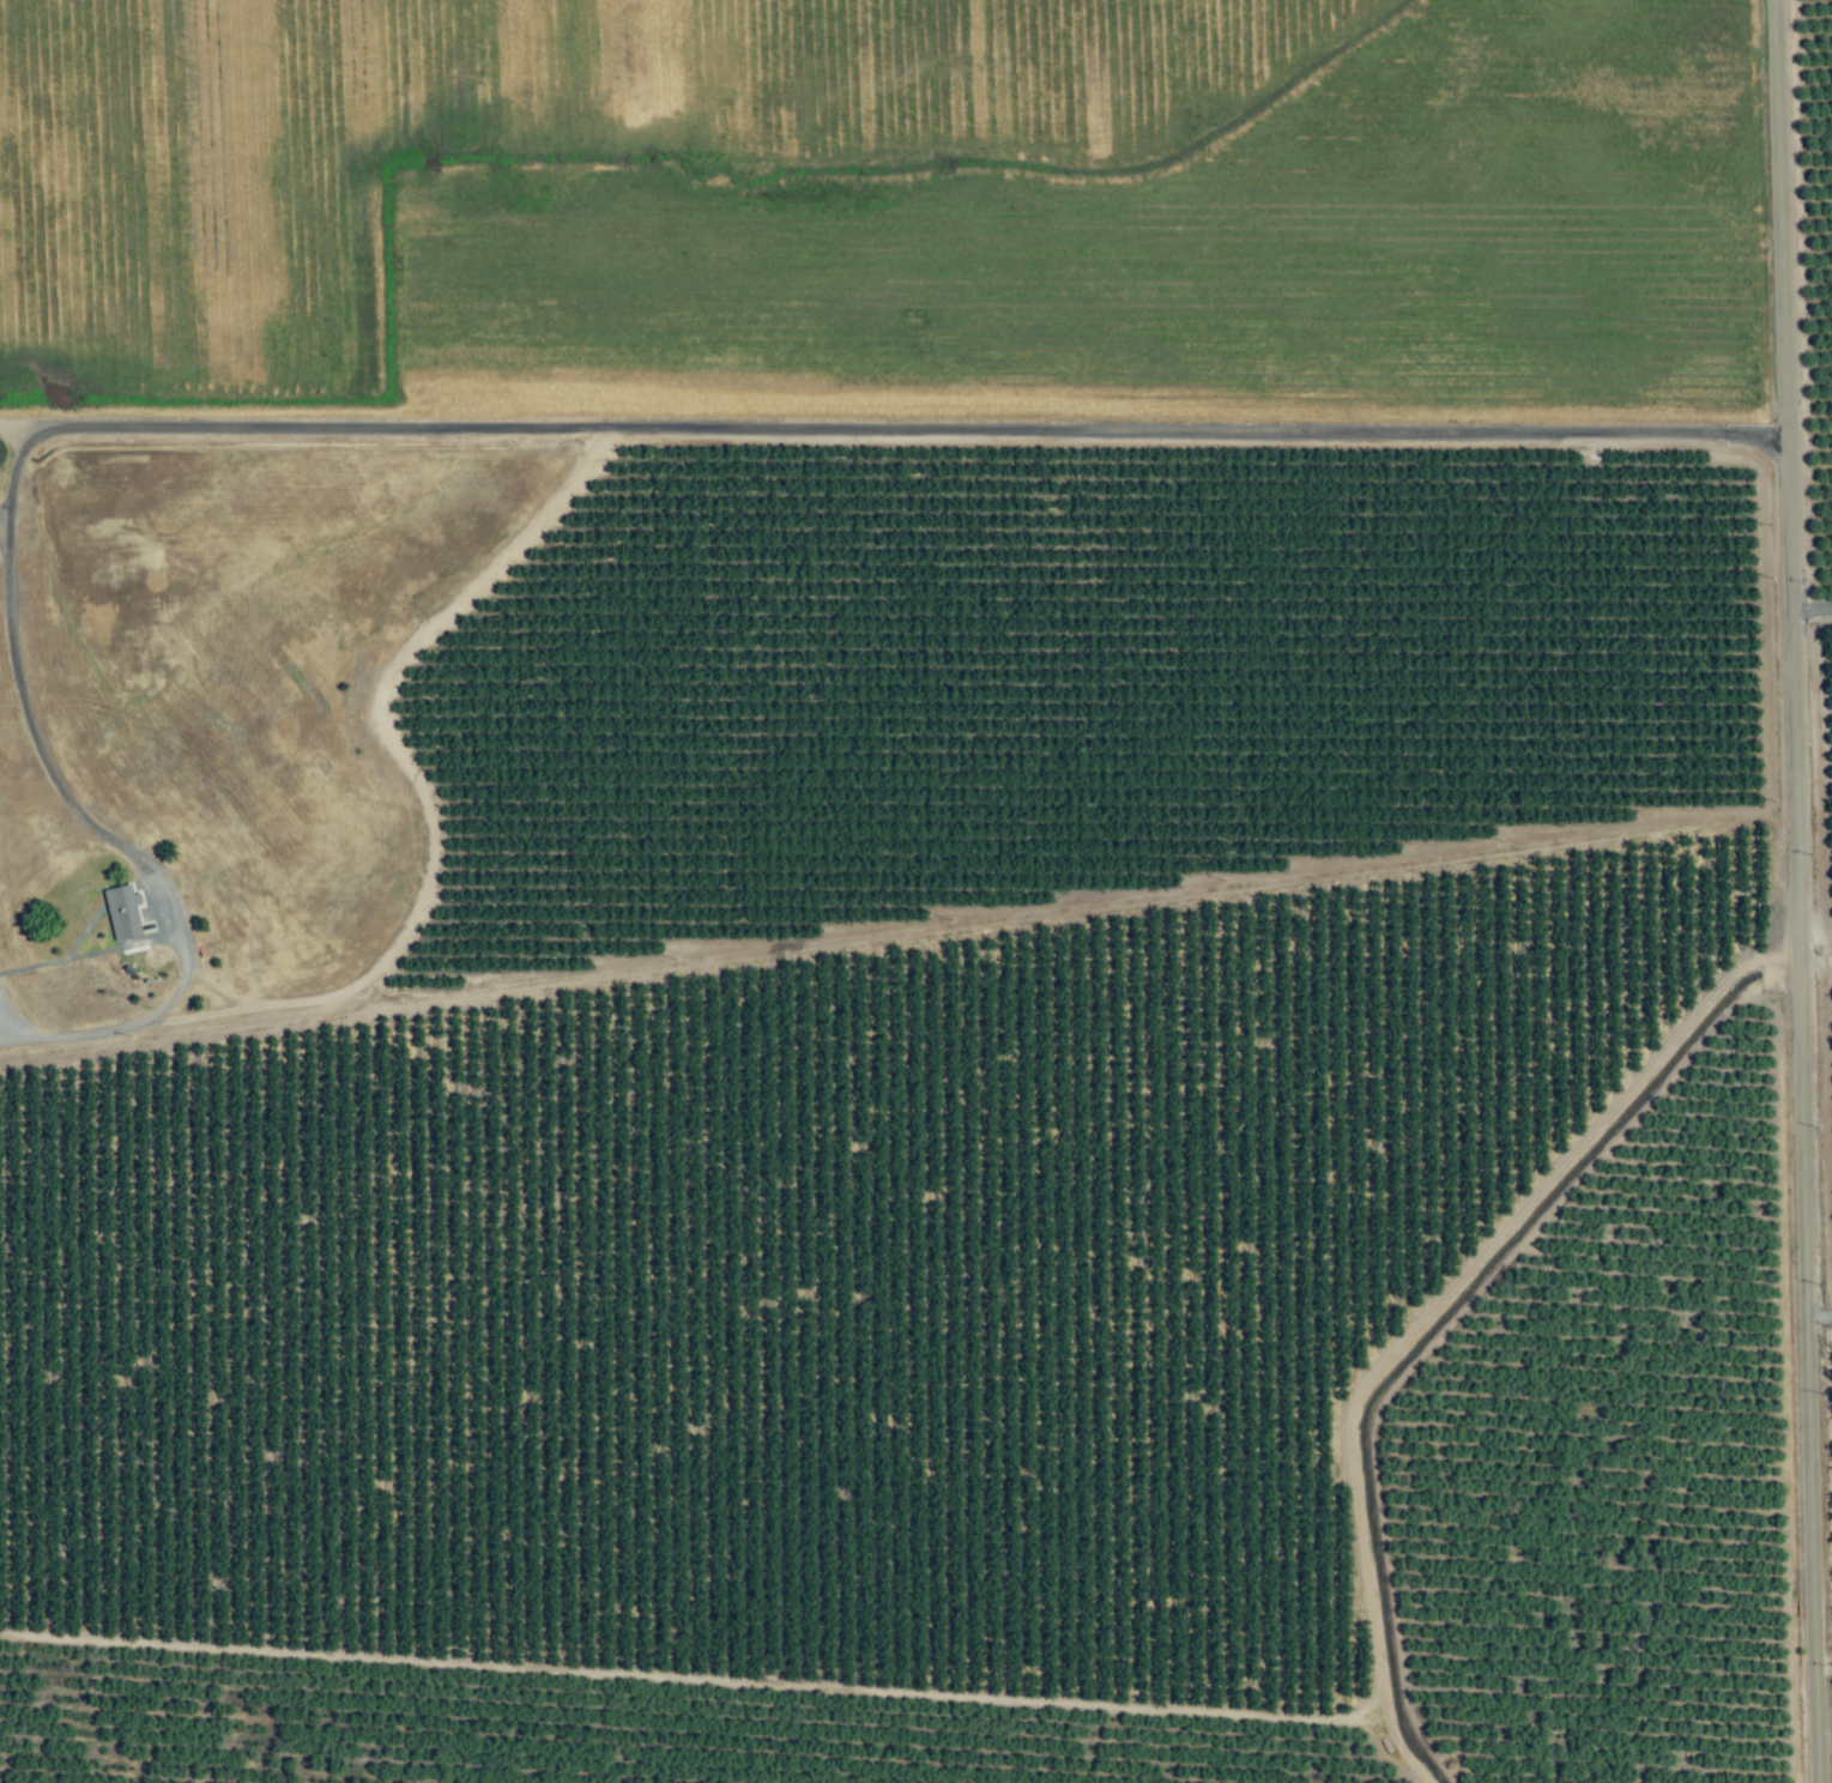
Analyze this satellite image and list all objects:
road: (651, 425)
road: (4, 522)
road: (1808, 609)
road: (1790, 890)
crop: (974, 902)
building: (125, 913)
road: (146, 1016)
road: (1814, 1312)

